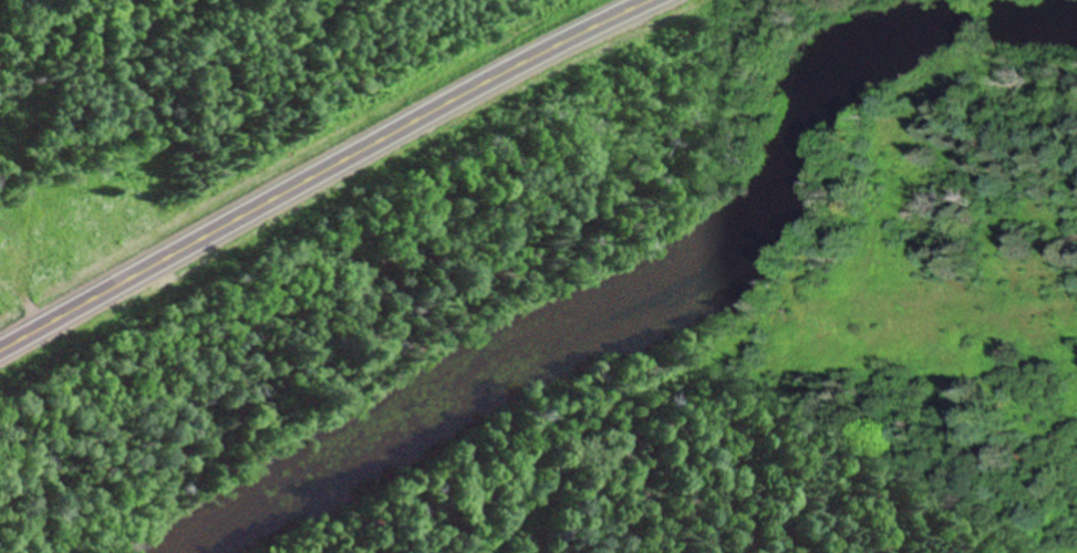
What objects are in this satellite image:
road: (320, 171)
river: (663, 299)

